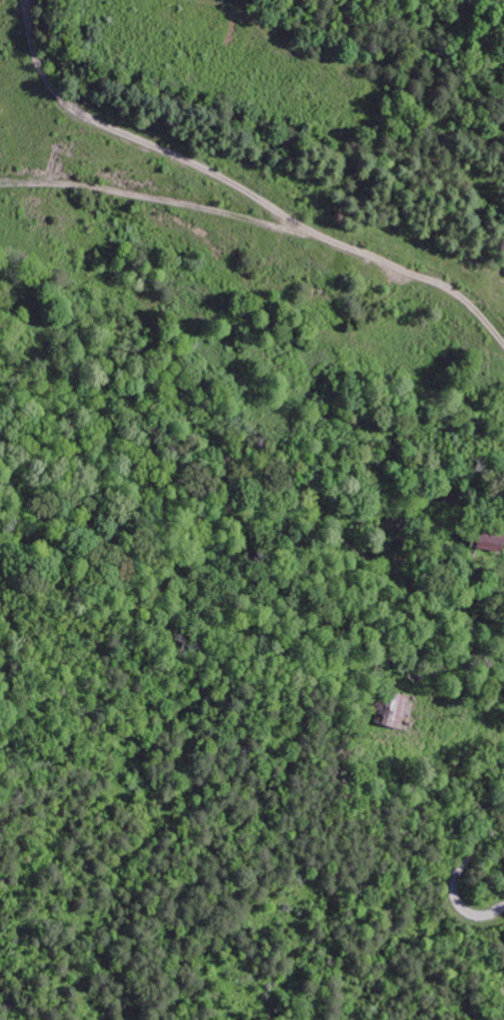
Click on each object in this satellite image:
road: (456, 880)

